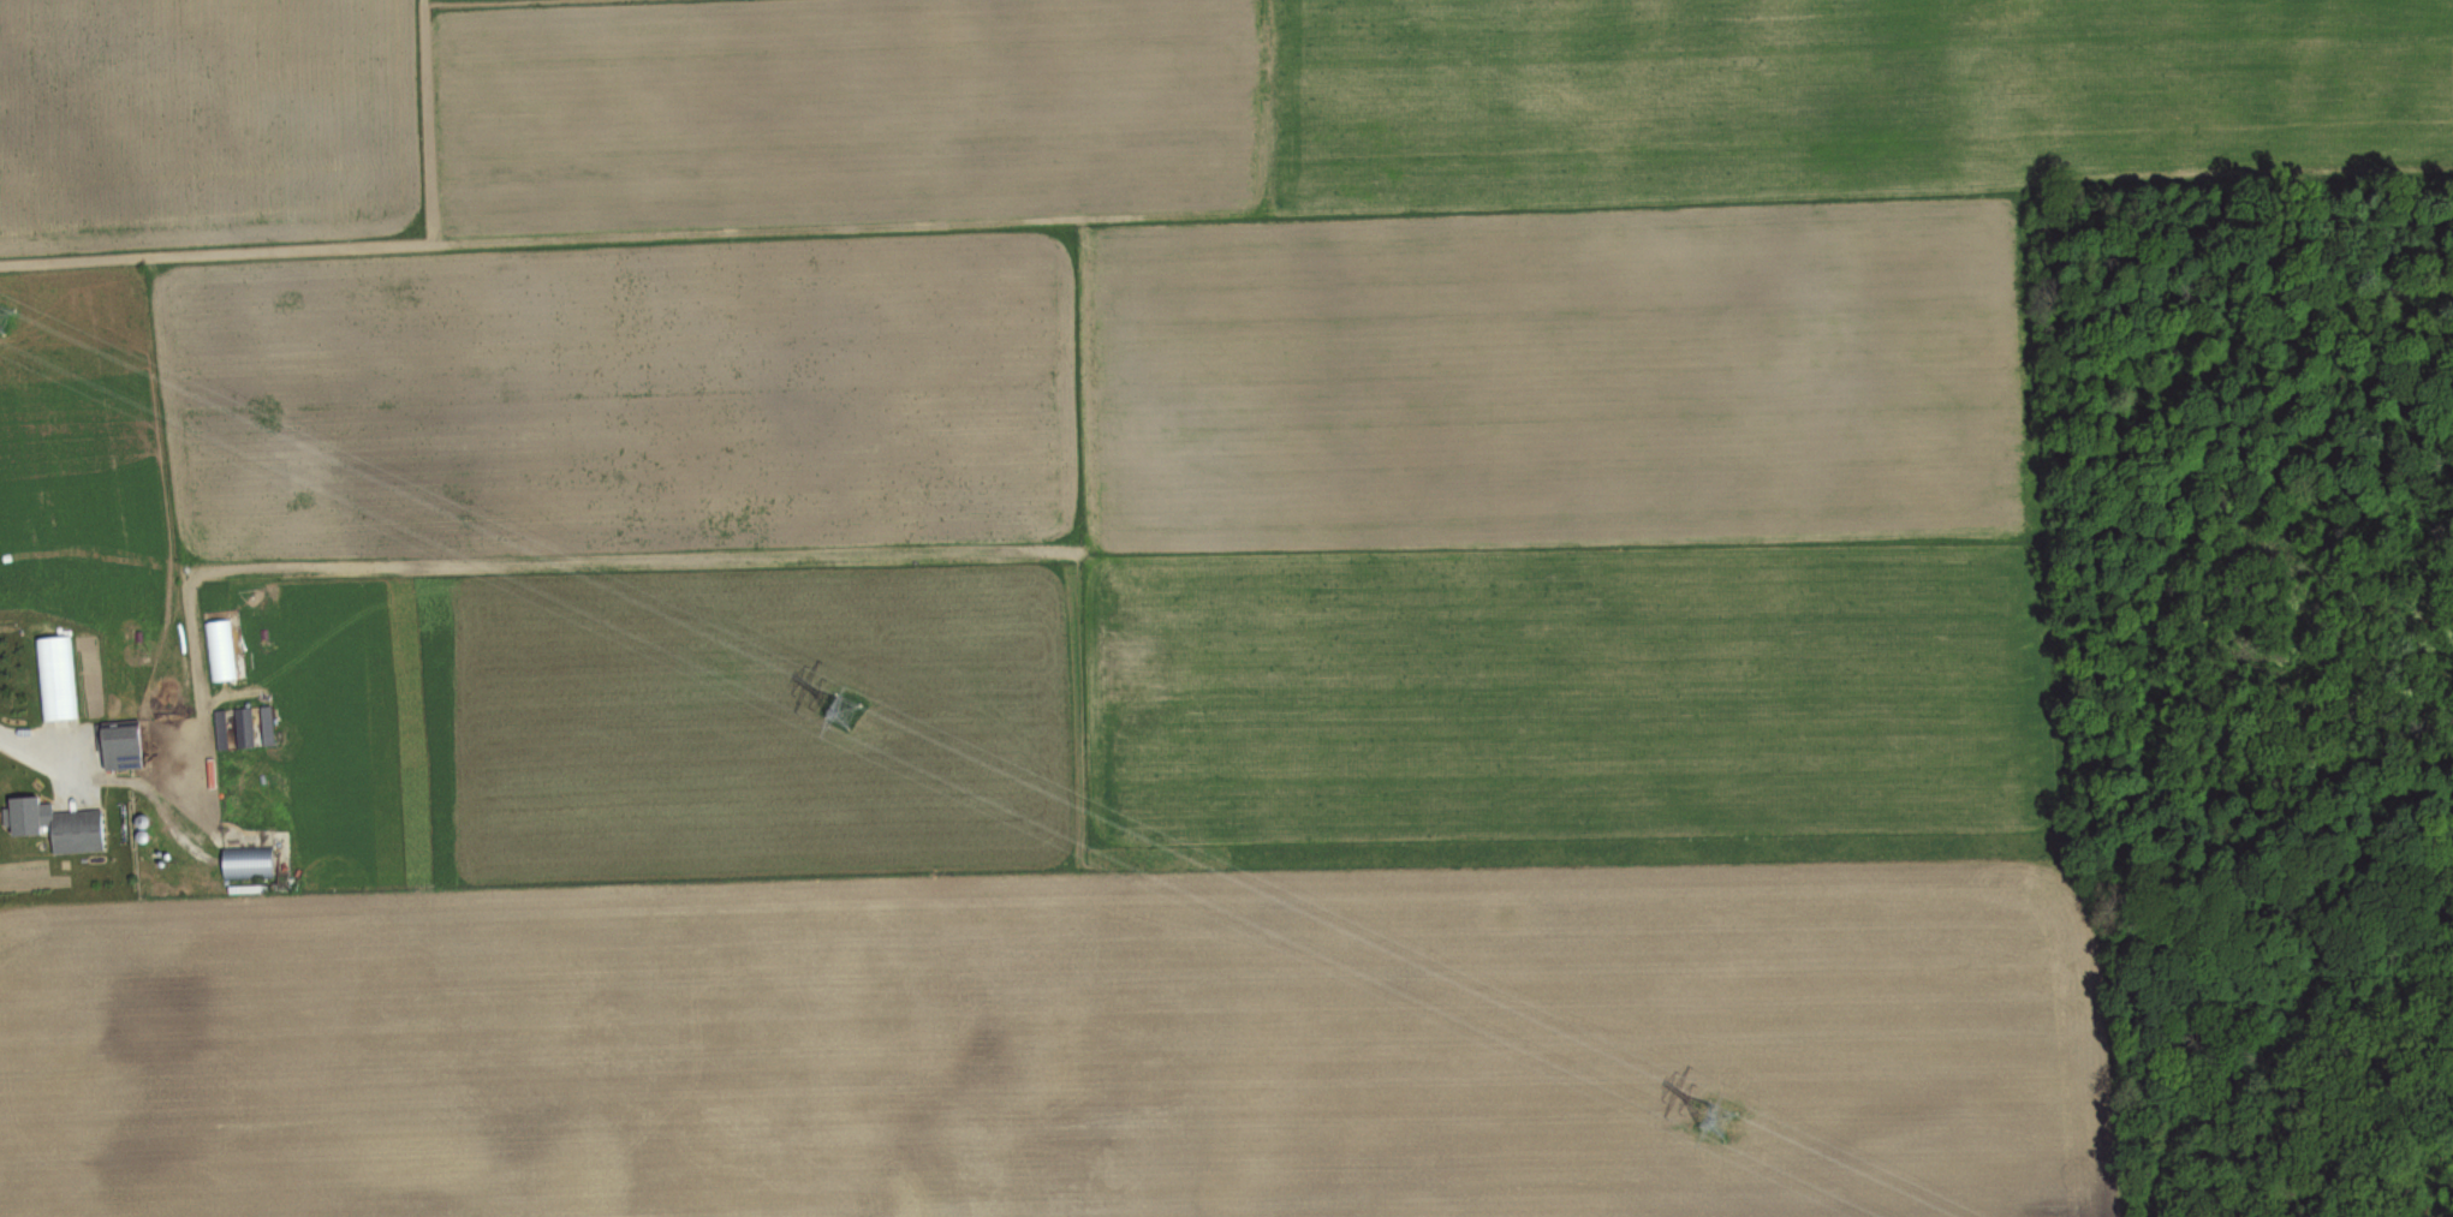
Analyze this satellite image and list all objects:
power tower: (841, 711)
road: (31, 744)
building: (121, 745)
building: (77, 831)
building: (248, 863)
power tower: (1716, 1121)

